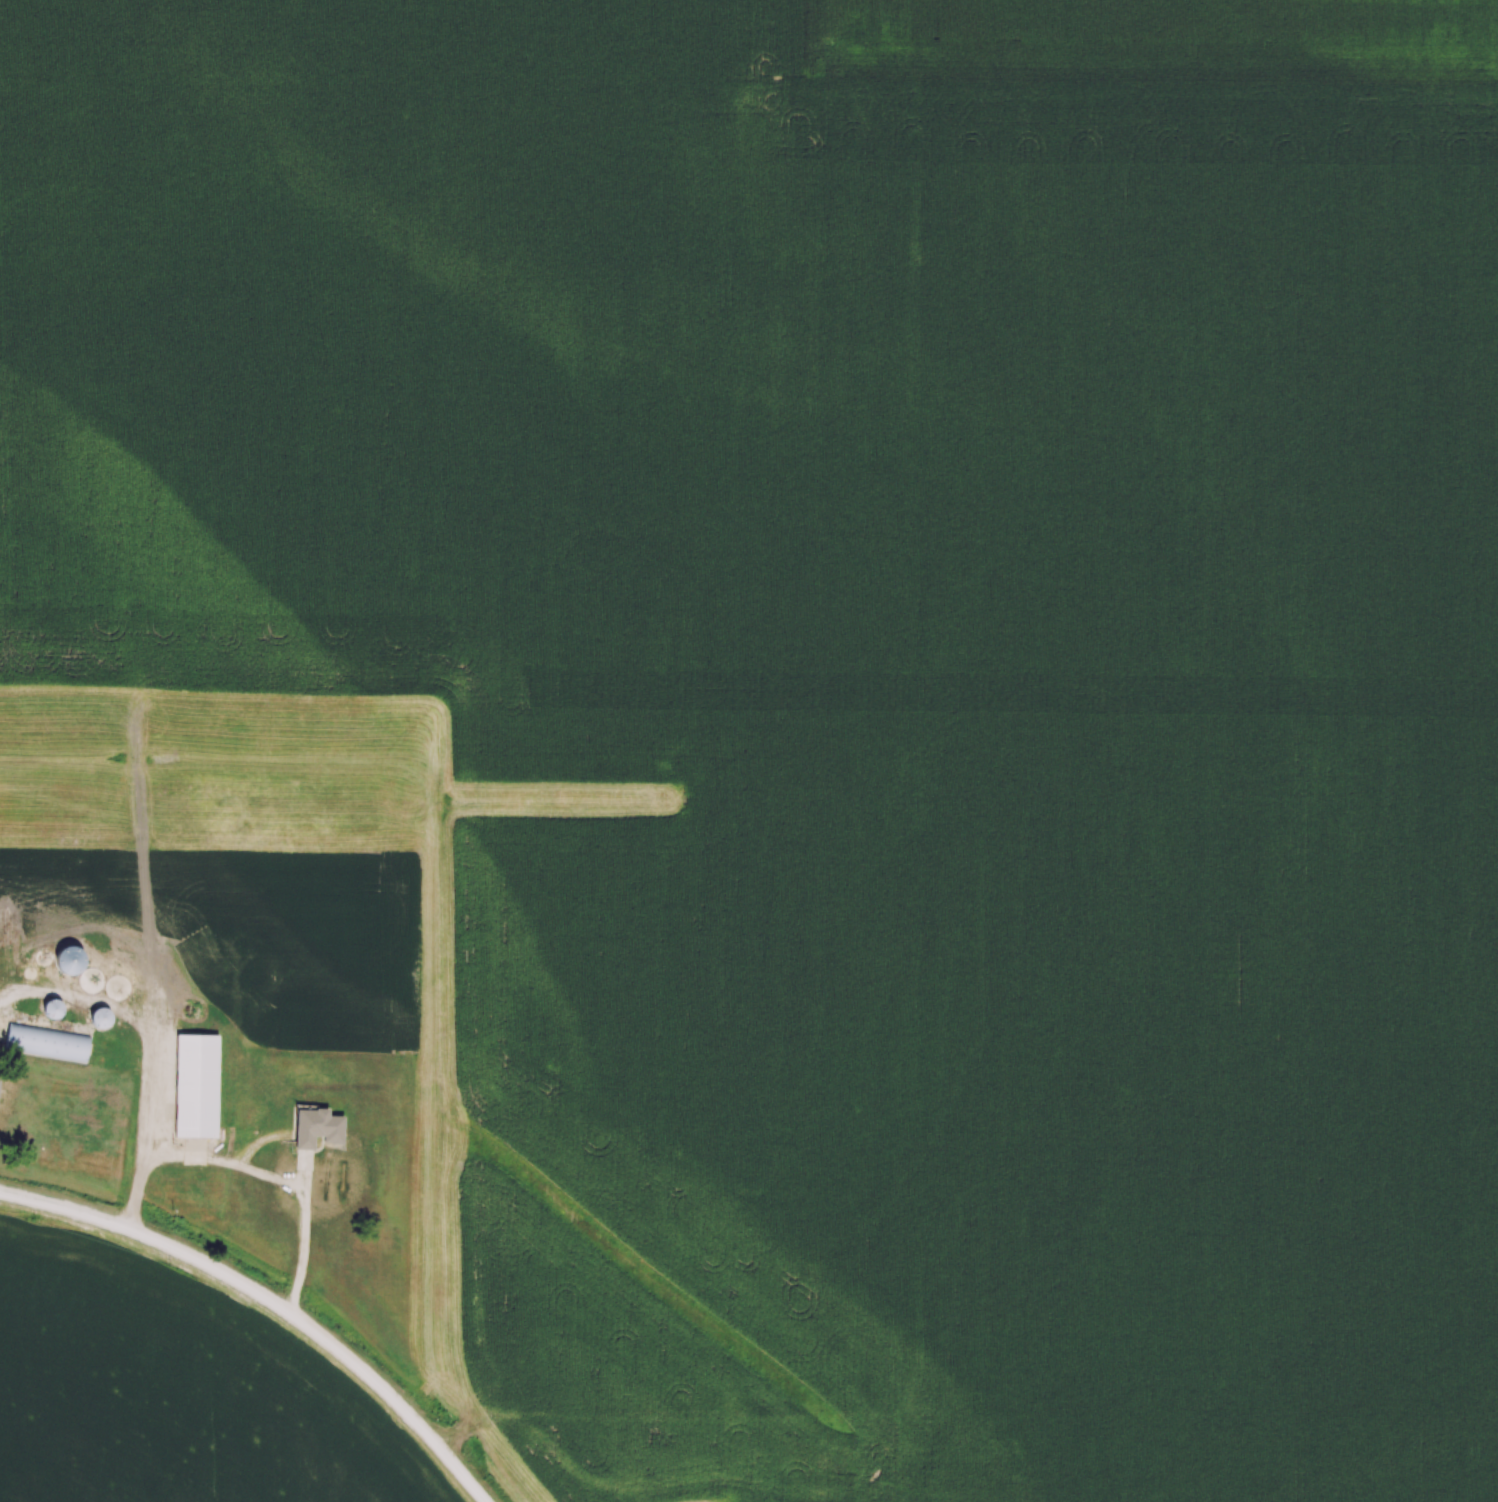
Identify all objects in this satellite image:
building: (71, 961)
building: (94, 981)
building: (120, 989)
building: (52, 1013)
building: (104, 1018)
road: (140, 1019)
building: (48, 1045)
building: (199, 1087)
building: (320, 1129)
road: (253, 1167)
road: (271, 1300)

